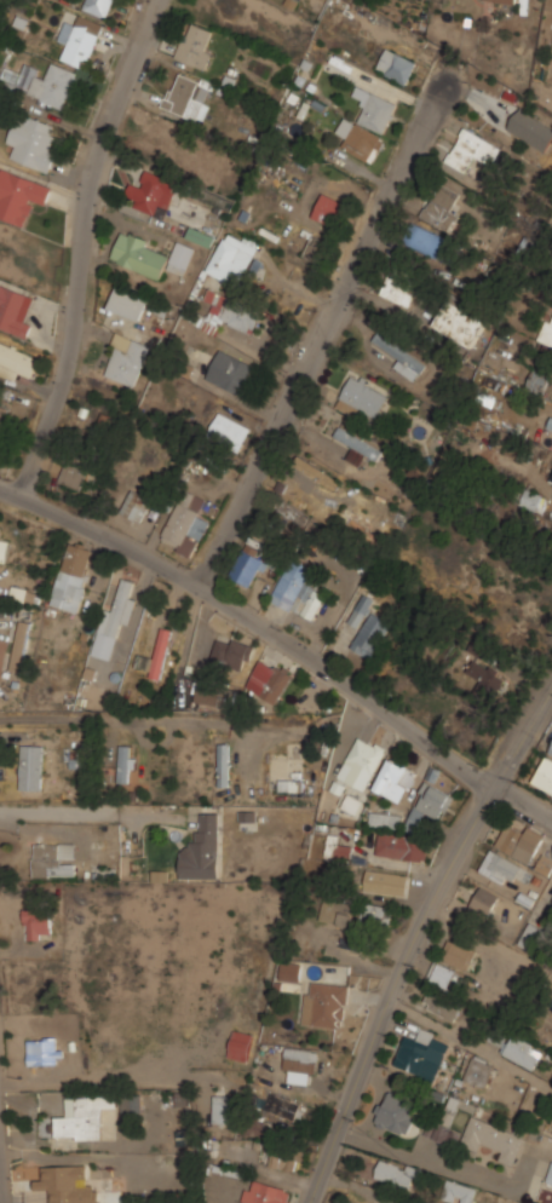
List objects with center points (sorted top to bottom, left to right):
building: (507, 1)
building: (98, 6)
building: (80, 39)
building: (195, 42)
building: (396, 64)
building: (54, 85)
building: (180, 92)
building: (368, 122)
building: (531, 129)
building: (31, 139)
building: (472, 150)
building: (154, 190)
building: (19, 195)
building: (442, 202)
building: (327, 208)
building: (201, 235)
building: (429, 241)
road: (86, 248)
building: (149, 254)
building: (545, 255)
building: (234, 257)
building: (397, 288)
building: (128, 303)
building: (225, 309)
building: (15, 310)
building: (459, 321)
building: (548, 329)
road: (322, 330)
building: (401, 355)
building: (127, 358)
building: (16, 362)
building: (230, 370)
building: (361, 396)
building: (1, 413)
building: (229, 431)
building: (360, 445)
building: (444, 466)
building: (320, 470)
building: (74, 473)
building: (530, 499)
building: (136, 505)
building: (292, 512)
building: (185, 523)
building: (357, 524)
building: (4, 548)
building: (247, 563)
building: (74, 575)
building: (298, 588)
building: (121, 606)
building: (361, 609)
building: (513, 629)
building: (370, 634)
road: (284, 640)
building: (21, 644)
building: (161, 652)
building: (231, 654)
building: (269, 679)
building: (487, 679)
building: (226, 697)
road: (115, 718)
building: (551, 750)
building: (363, 760)
building: (123, 762)
building: (224, 764)
building: (31, 766)
building: (393, 772)
building: (544, 775)
building: (429, 804)
road: (91, 815)
building: (385, 818)
building: (521, 840)
building: (401, 845)
building: (203, 847)
building: (337, 848)
building: (50, 856)
building: (544, 864)
building: (502, 868)
building: (99, 871)
building: (385, 881)
building: (484, 899)
building: (353, 911)
building: (38, 922)
road: (415, 938)
building: (458, 952)
building: (291, 969)
building: (445, 975)
building: (324, 1003)
building: (441, 1005)
building: (240, 1043)
building: (516, 1048)
building: (42, 1051)
building: (422, 1054)
building: (301, 1059)
building: (478, 1071)
building: (182, 1099)
building: (133, 1103)
building: (287, 1106)
building: (224, 1110)
building: (397, 1113)
building: (84, 1117)
building: (447, 1134)
building: (494, 1138)
building: (284, 1156)
road: (443, 1167)
building: (550, 1172)
building: (397, 1174)
road: (1, 1178)
building: (67, 1185)
building: (266, 1191)
building: (459, 1191)

